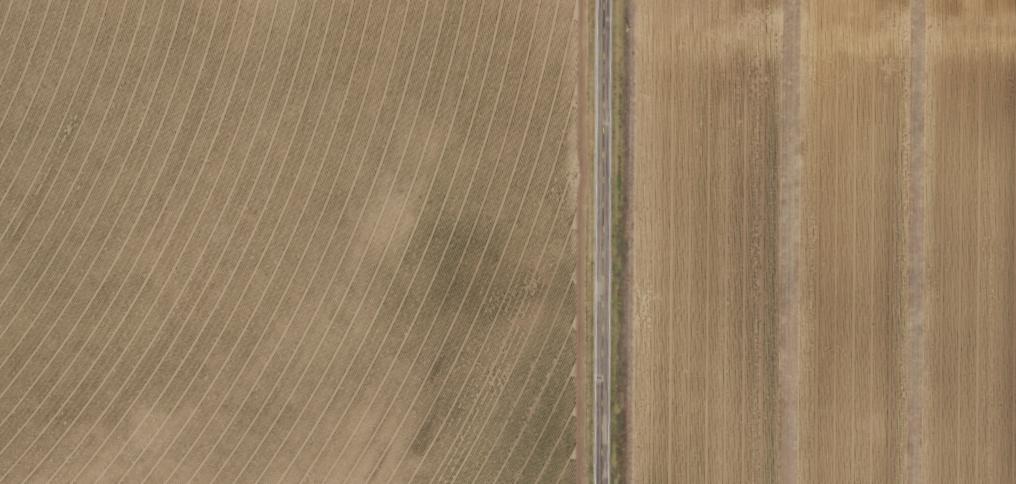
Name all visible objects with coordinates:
road: (603, 242)

